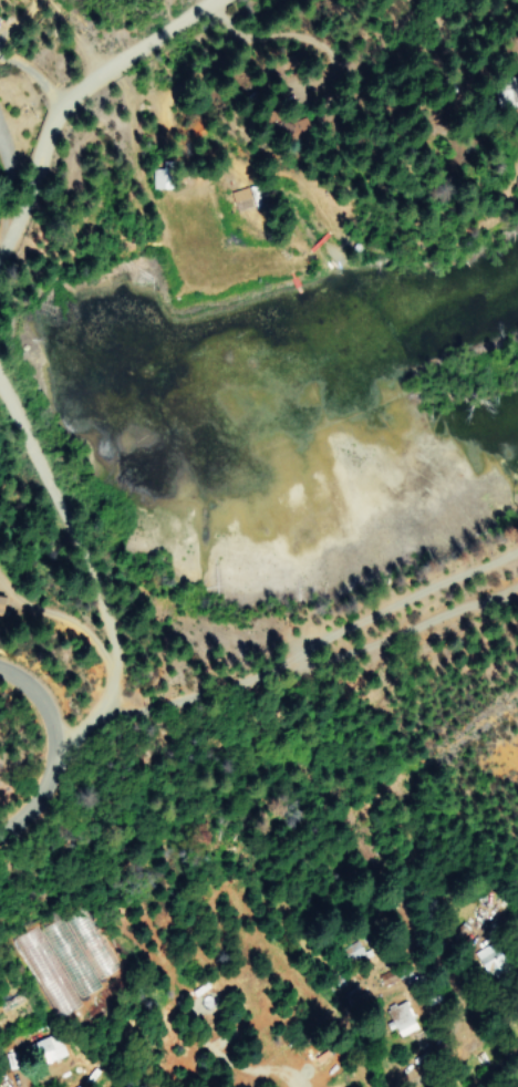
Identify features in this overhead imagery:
road: (300, 37)
road: (129, 51)
road: (25, 177)
building: (235, 199)
road: (87, 567)
road: (33, 698)
road: (39, 791)
building: (401, 1017)
building: (48, 1048)

